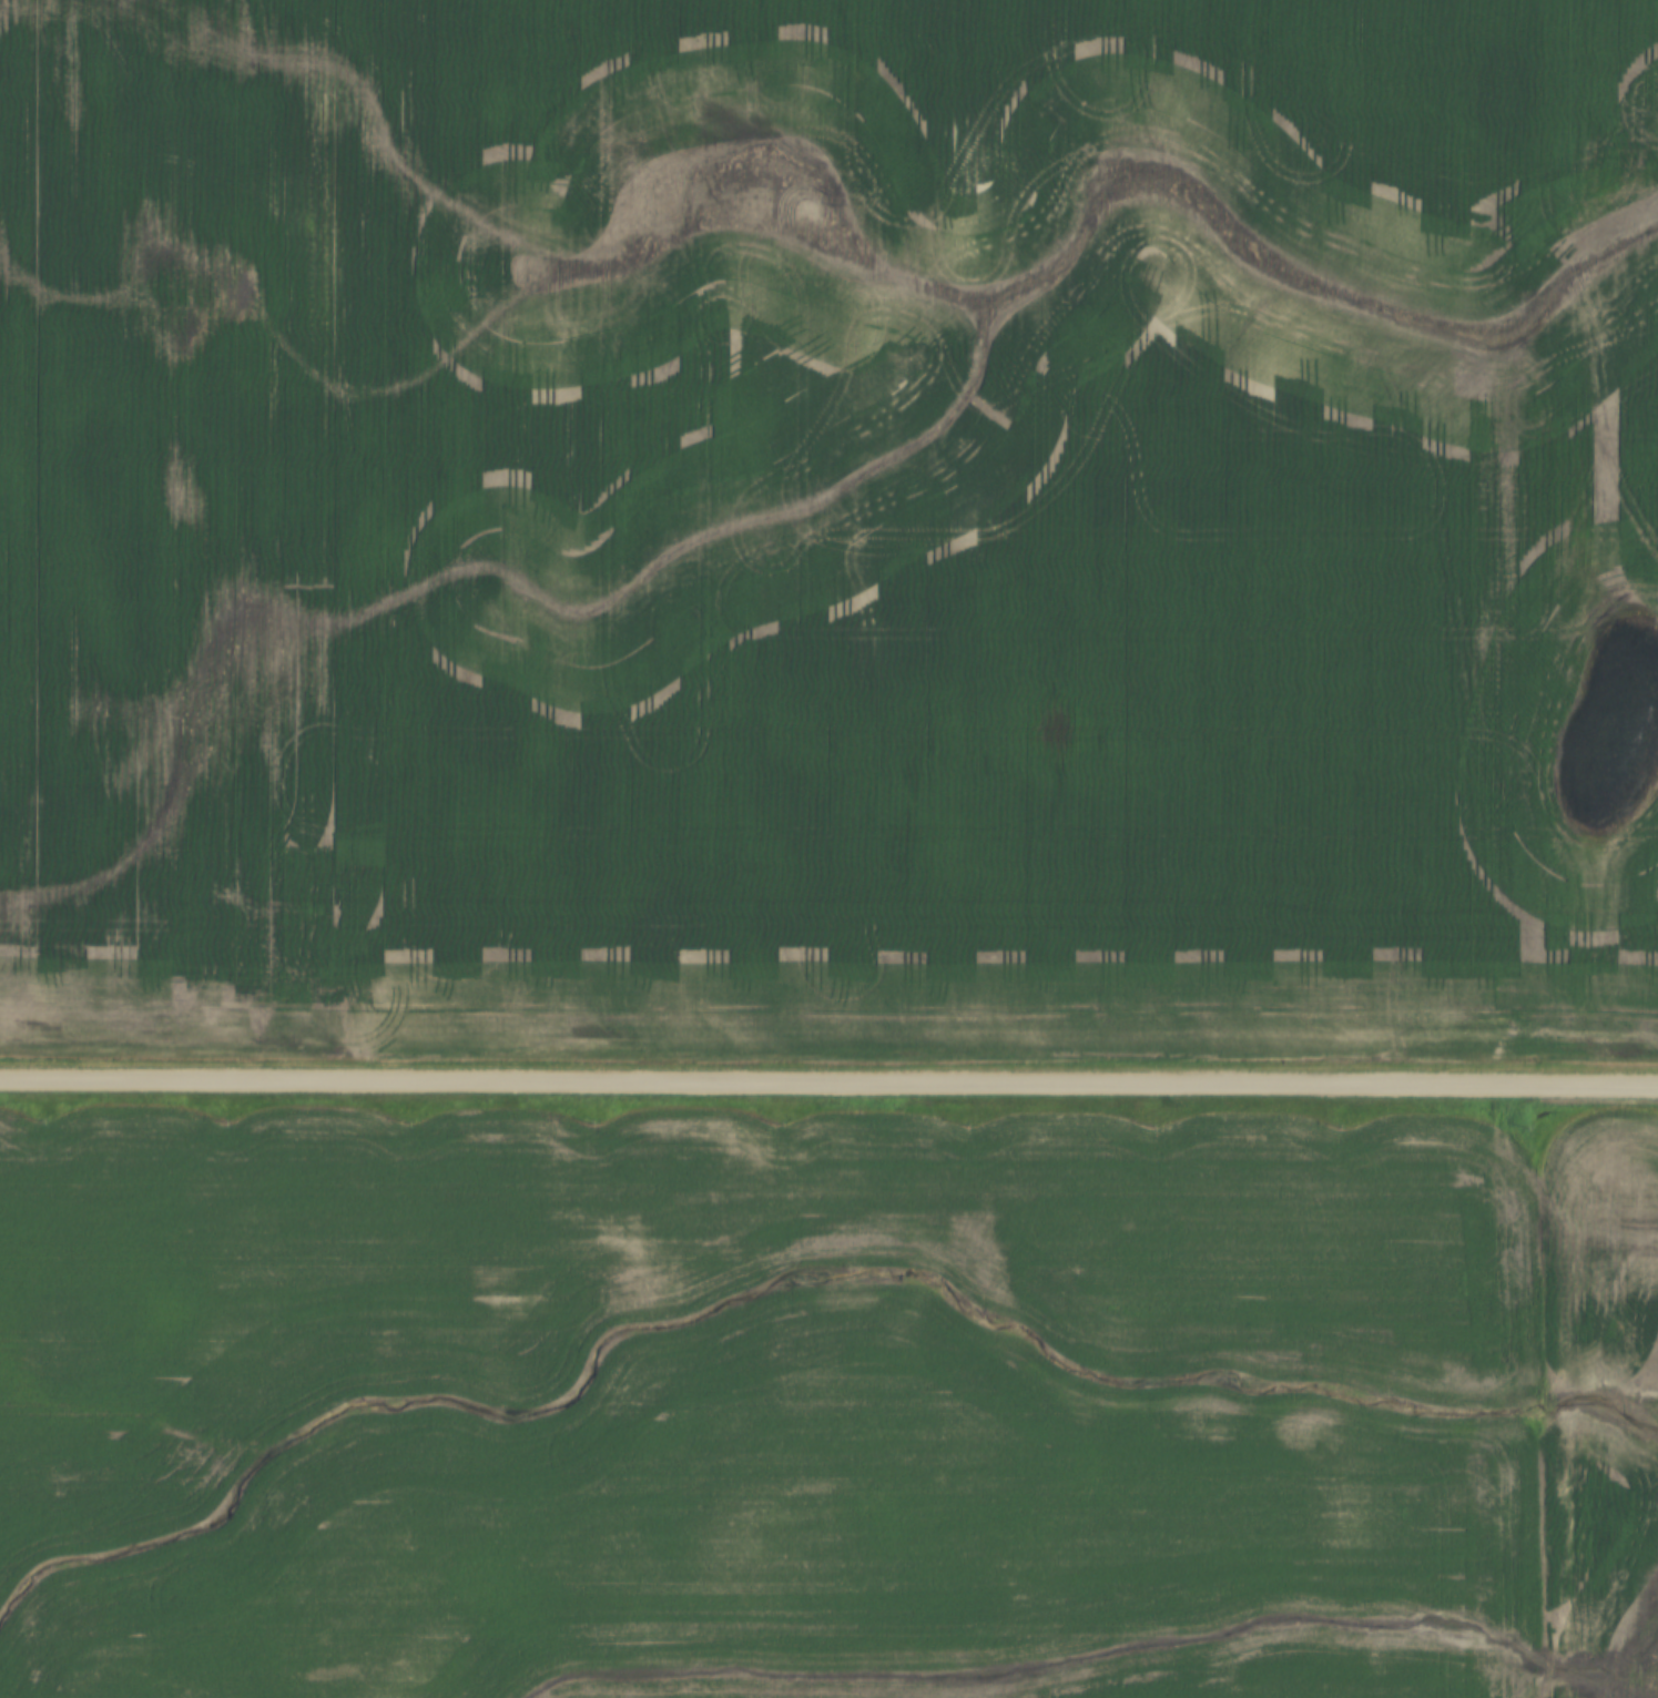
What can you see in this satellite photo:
road: (828, 1082)

